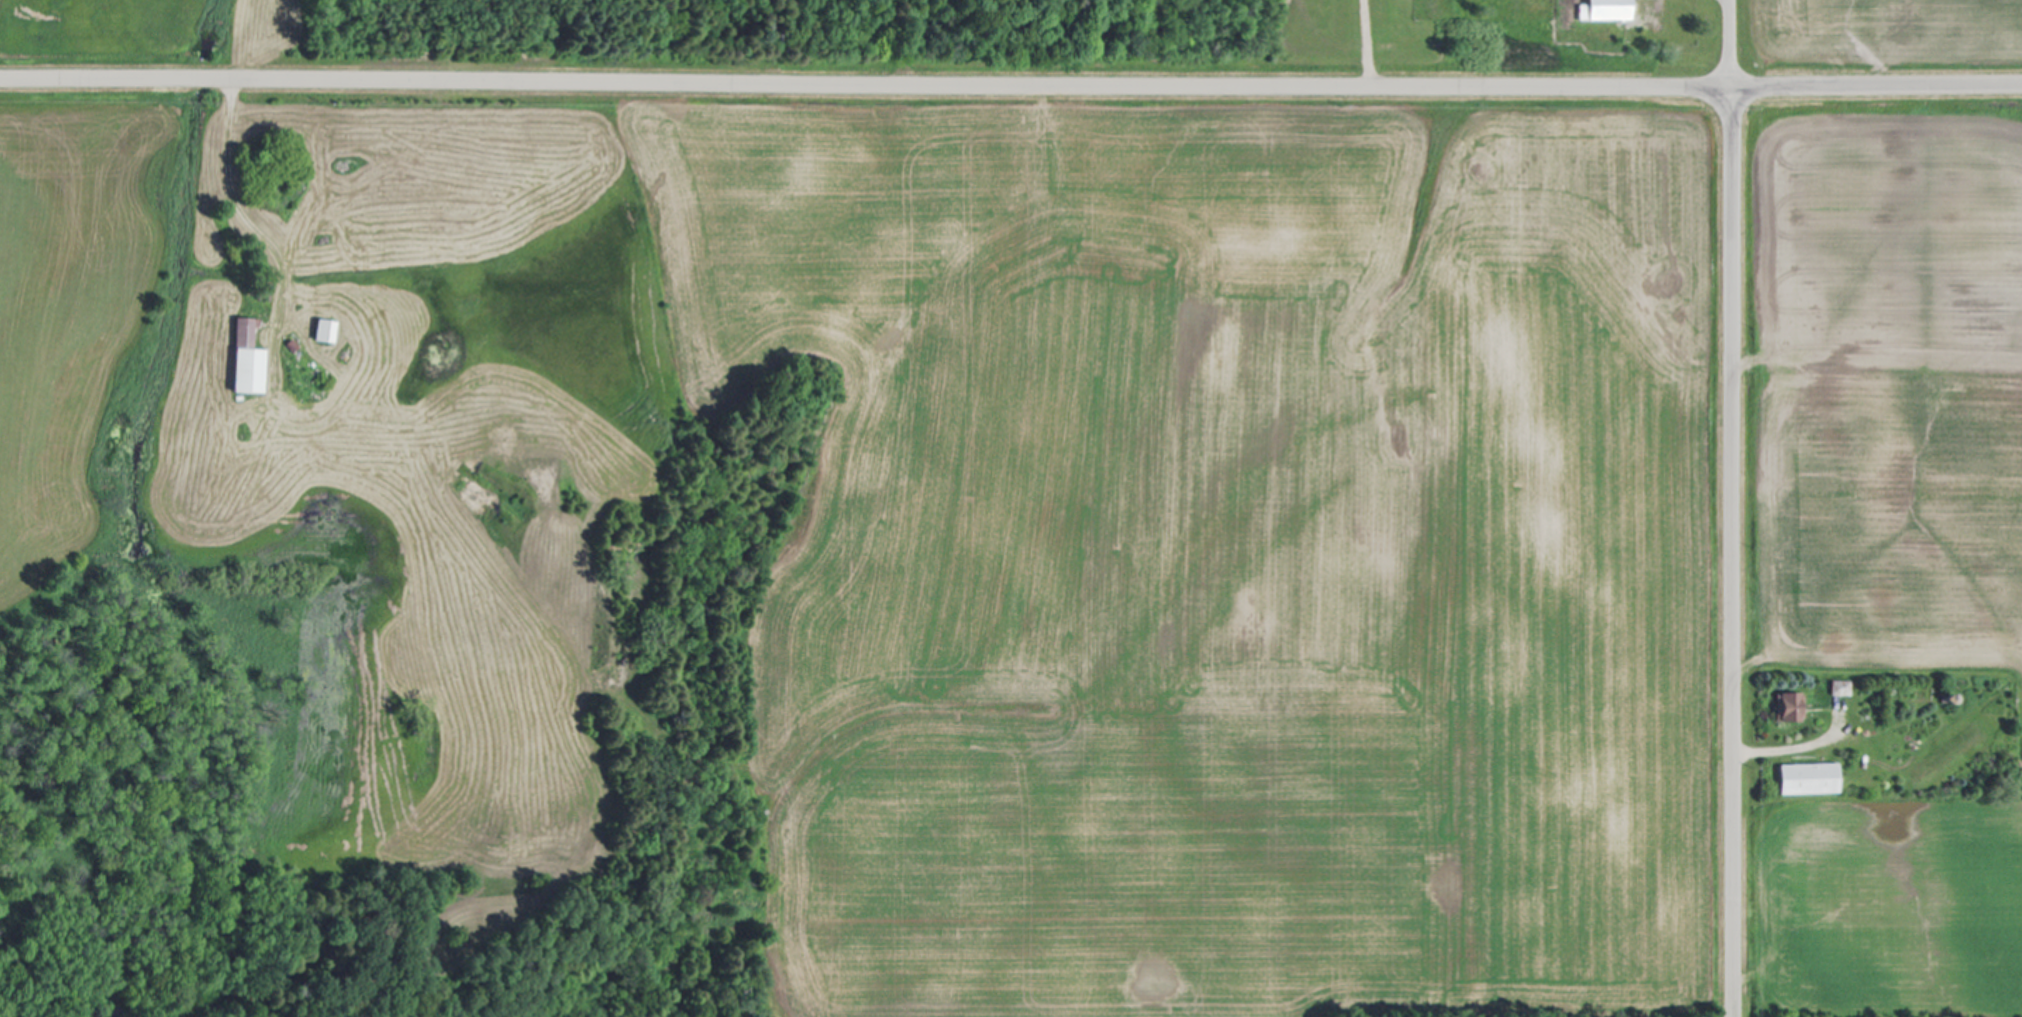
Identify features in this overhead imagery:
building: (1609, 11)
road: (1731, 44)
road: (1010, 84)
road: (235, 197)
building: (328, 332)
building: (250, 361)
road: (1734, 552)
building: (1836, 689)
building: (1784, 708)
road: (1797, 745)
building: (1804, 779)

